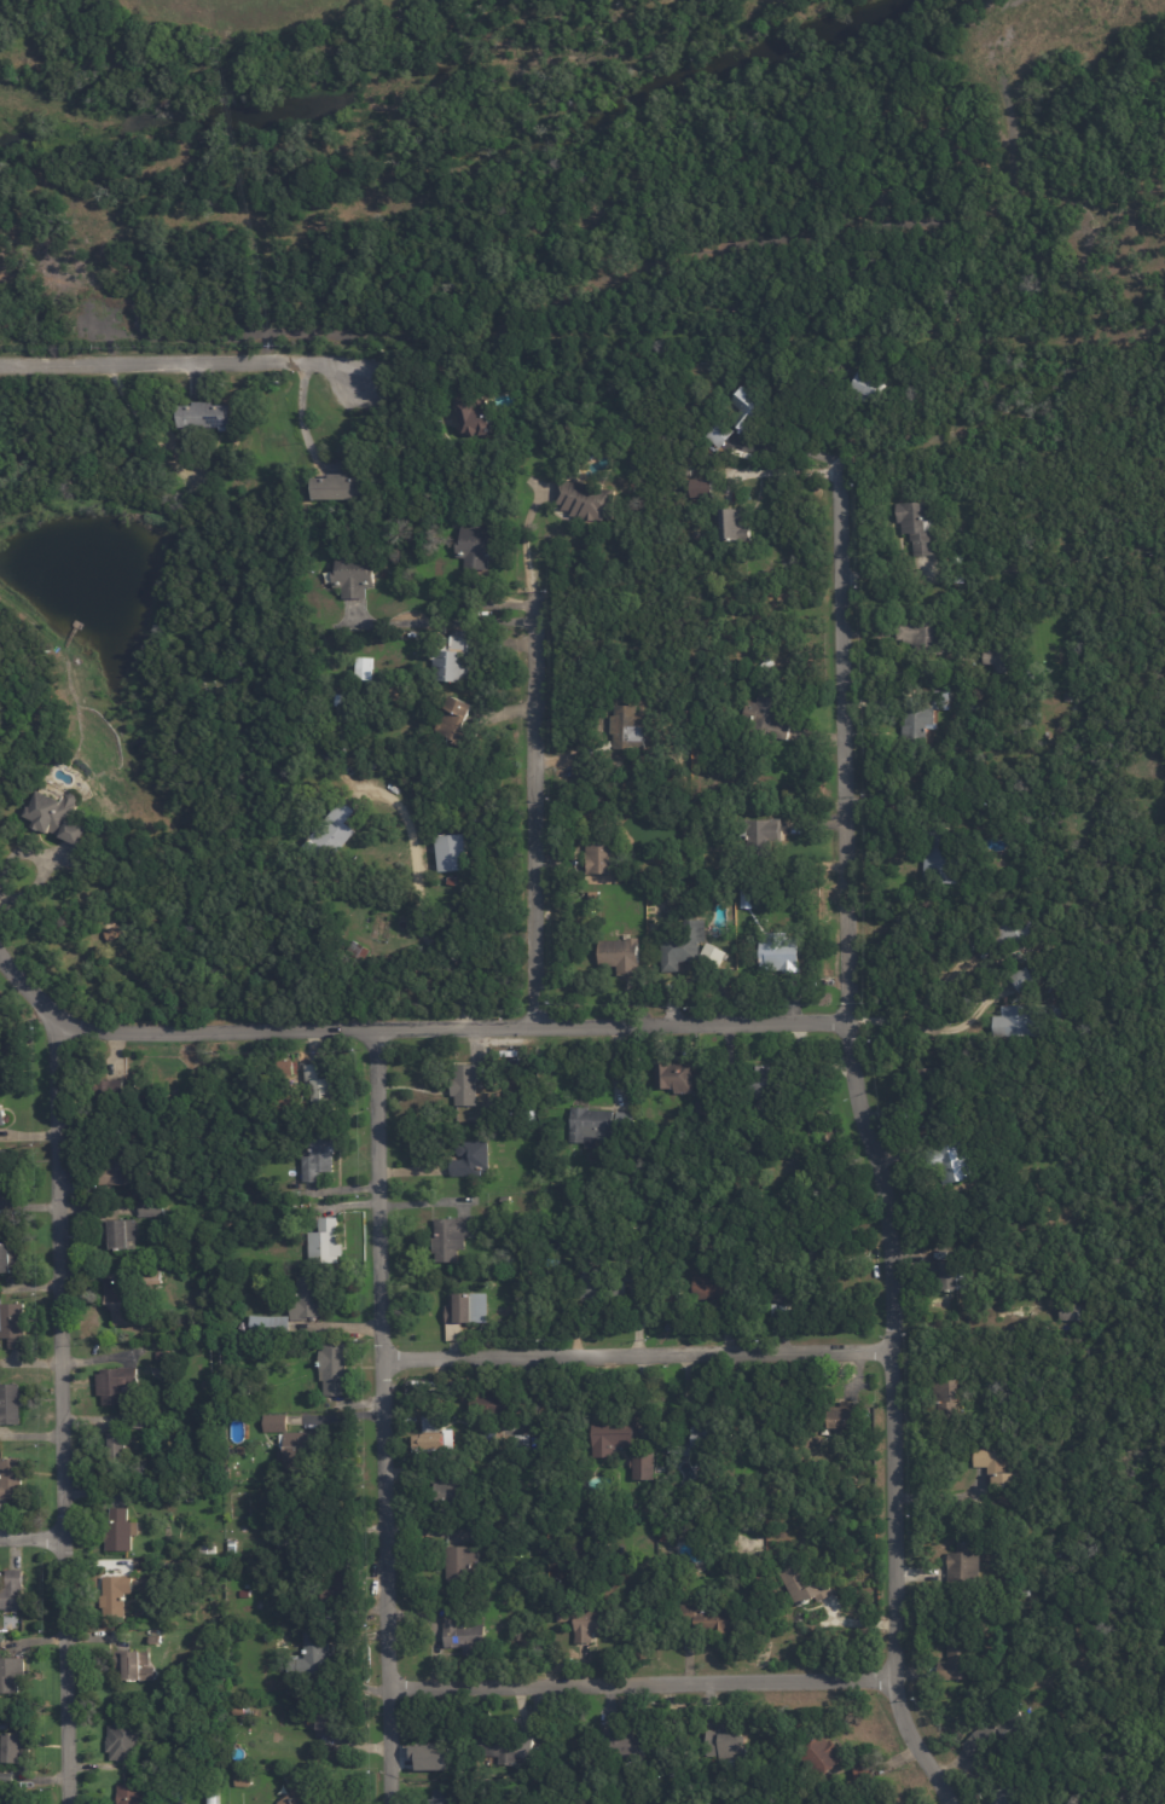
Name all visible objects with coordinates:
building: (34, 2)
building: (6, 21)
road: (176, 358)
road: (418, 361)
building: (824, 376)
building: (811, 379)
building: (866, 388)
building: (203, 413)
road: (302, 413)
building: (473, 417)
building: (740, 418)
building: (717, 431)
building: (140, 439)
building: (697, 486)
building: (338, 489)
building: (586, 501)
building: (239, 504)
building: (917, 524)
building: (732, 526)
building: (479, 547)
building: (354, 576)
road: (444, 621)
building: (329, 626)
building: (926, 636)
building: (1003, 656)
building: (766, 663)
building: (366, 668)
building: (453, 668)
building: (1021, 678)
building: (944, 700)
building: (337, 702)
building: (765, 717)
building: (457, 721)
building: (918, 723)
building: (626, 726)
building: (996, 810)
road: (532, 816)
building: (57, 820)
building: (331, 831)
building: (764, 831)
building: (453, 852)
building: (603, 853)
building: (943, 857)
building: (313, 866)
road: (419, 900)
building: (1015, 933)
building: (690, 947)
building: (350, 949)
building: (621, 953)
building: (784, 953)
building: (1022, 979)
building: (1019, 1021)
road: (412, 1022)
road: (950, 1027)
building: (677, 1077)
building: (771, 1081)
building: (468, 1084)
building: (320, 1090)
building: (932, 1090)
building: (801, 1094)
building: (109, 1100)
building: (703, 1106)
building: (1, 1120)
building: (626, 1120)
building: (591, 1124)
road: (871, 1142)
building: (320, 1156)
building: (471, 1159)
building: (954, 1162)
building: (632, 1170)
building: (117, 1171)
building: (173, 1174)
building: (7, 1176)
building: (506, 1200)
building: (150, 1211)
building: (827, 1222)
building: (116, 1235)
building: (452, 1237)
building: (326, 1243)
building: (822, 1245)
building: (8, 1261)
building: (634, 1268)
building: (952, 1275)
building: (152, 1280)
building: (712, 1286)
building: (784, 1288)
building: (596, 1289)
building: (307, 1300)
building: (123, 1306)
building: (462, 1310)
building: (1071, 1313)
building: (271, 1326)
building: (13, 1327)
building: (193, 1329)
road: (636, 1350)
building: (161, 1357)
building: (335, 1362)
building: (116, 1386)
building: (952, 1396)
building: (10, 1406)
building: (493, 1406)
road: (60, 1409)
road: (382, 1413)
building: (847, 1417)
building: (276, 1423)
building: (141, 1425)
building: (437, 1434)
building: (613, 1437)
building: (701, 1439)
building: (522, 1443)
building: (117, 1448)
building: (415, 1449)
building: (299, 1451)
building: (644, 1466)
building: (996, 1469)
building: (11, 1480)
building: (453, 1495)
building: (120, 1532)
building: (667, 1536)
road: (31, 1538)
building: (288, 1543)
building: (219, 1548)
building: (984, 1548)
building: (460, 1564)
building: (966, 1568)
building: (338, 1582)
building: (760, 1582)
building: (806, 1587)
building: (509, 1588)
building: (12, 1593)
building: (245, 1594)
building: (116, 1596)
building: (714, 1620)
building: (585, 1623)
building: (1014, 1634)
building: (464, 1636)
building: (268, 1637)
building: (155, 1641)
building: (1024, 1654)
building: (312, 1657)
building: (960, 1660)
building: (135, 1667)
building: (11, 1677)
road: (641, 1677)
building: (242, 1712)
building: (328, 1721)
building: (1001, 1730)
building: (123, 1742)
building: (509, 1746)
building: (729, 1746)
building: (624, 1747)
building: (13, 1751)
building: (429, 1756)
building: (690, 1756)
building: (822, 1758)
building: (538, 1770)
building: (670, 1770)
building: (863, 1771)
building: (131, 1796)
building: (1007, 1797)
building: (210, 1798)
building: (445, 1798)
building: (300, 1800)

